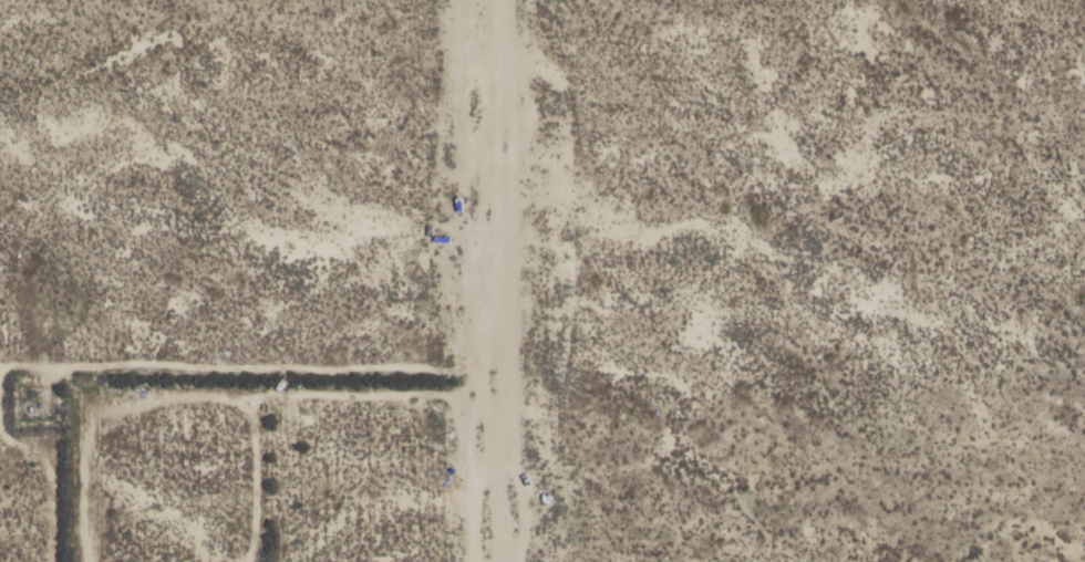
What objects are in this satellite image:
road: (483, 281)

